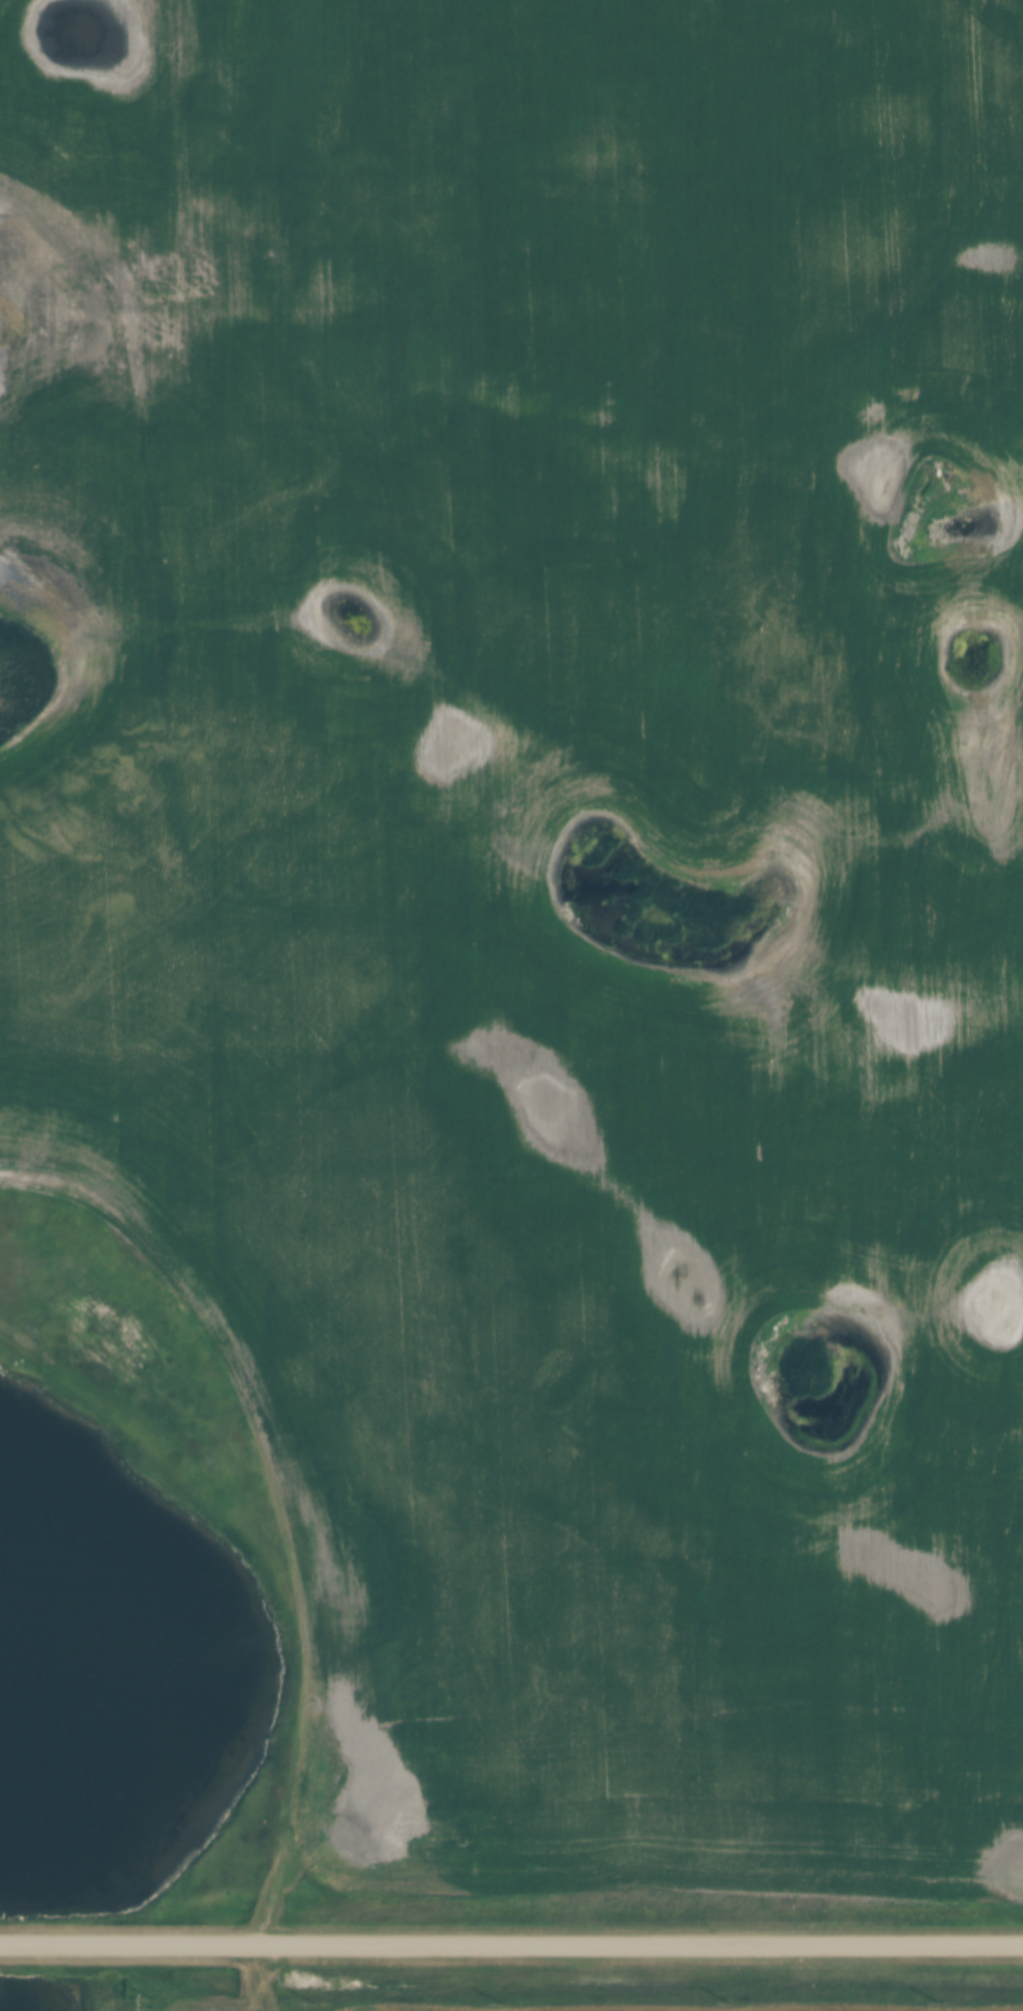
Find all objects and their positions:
road: (511, 1945)

